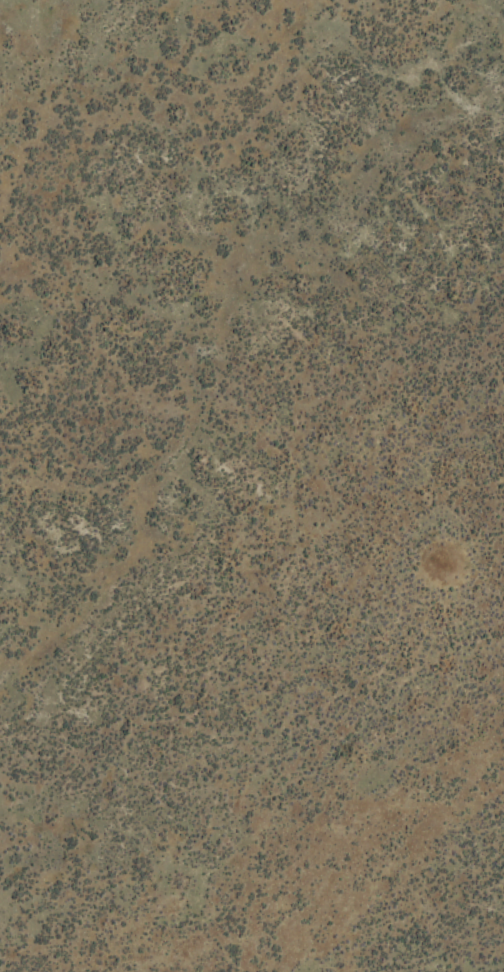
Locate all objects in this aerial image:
crop: (252, 486)

